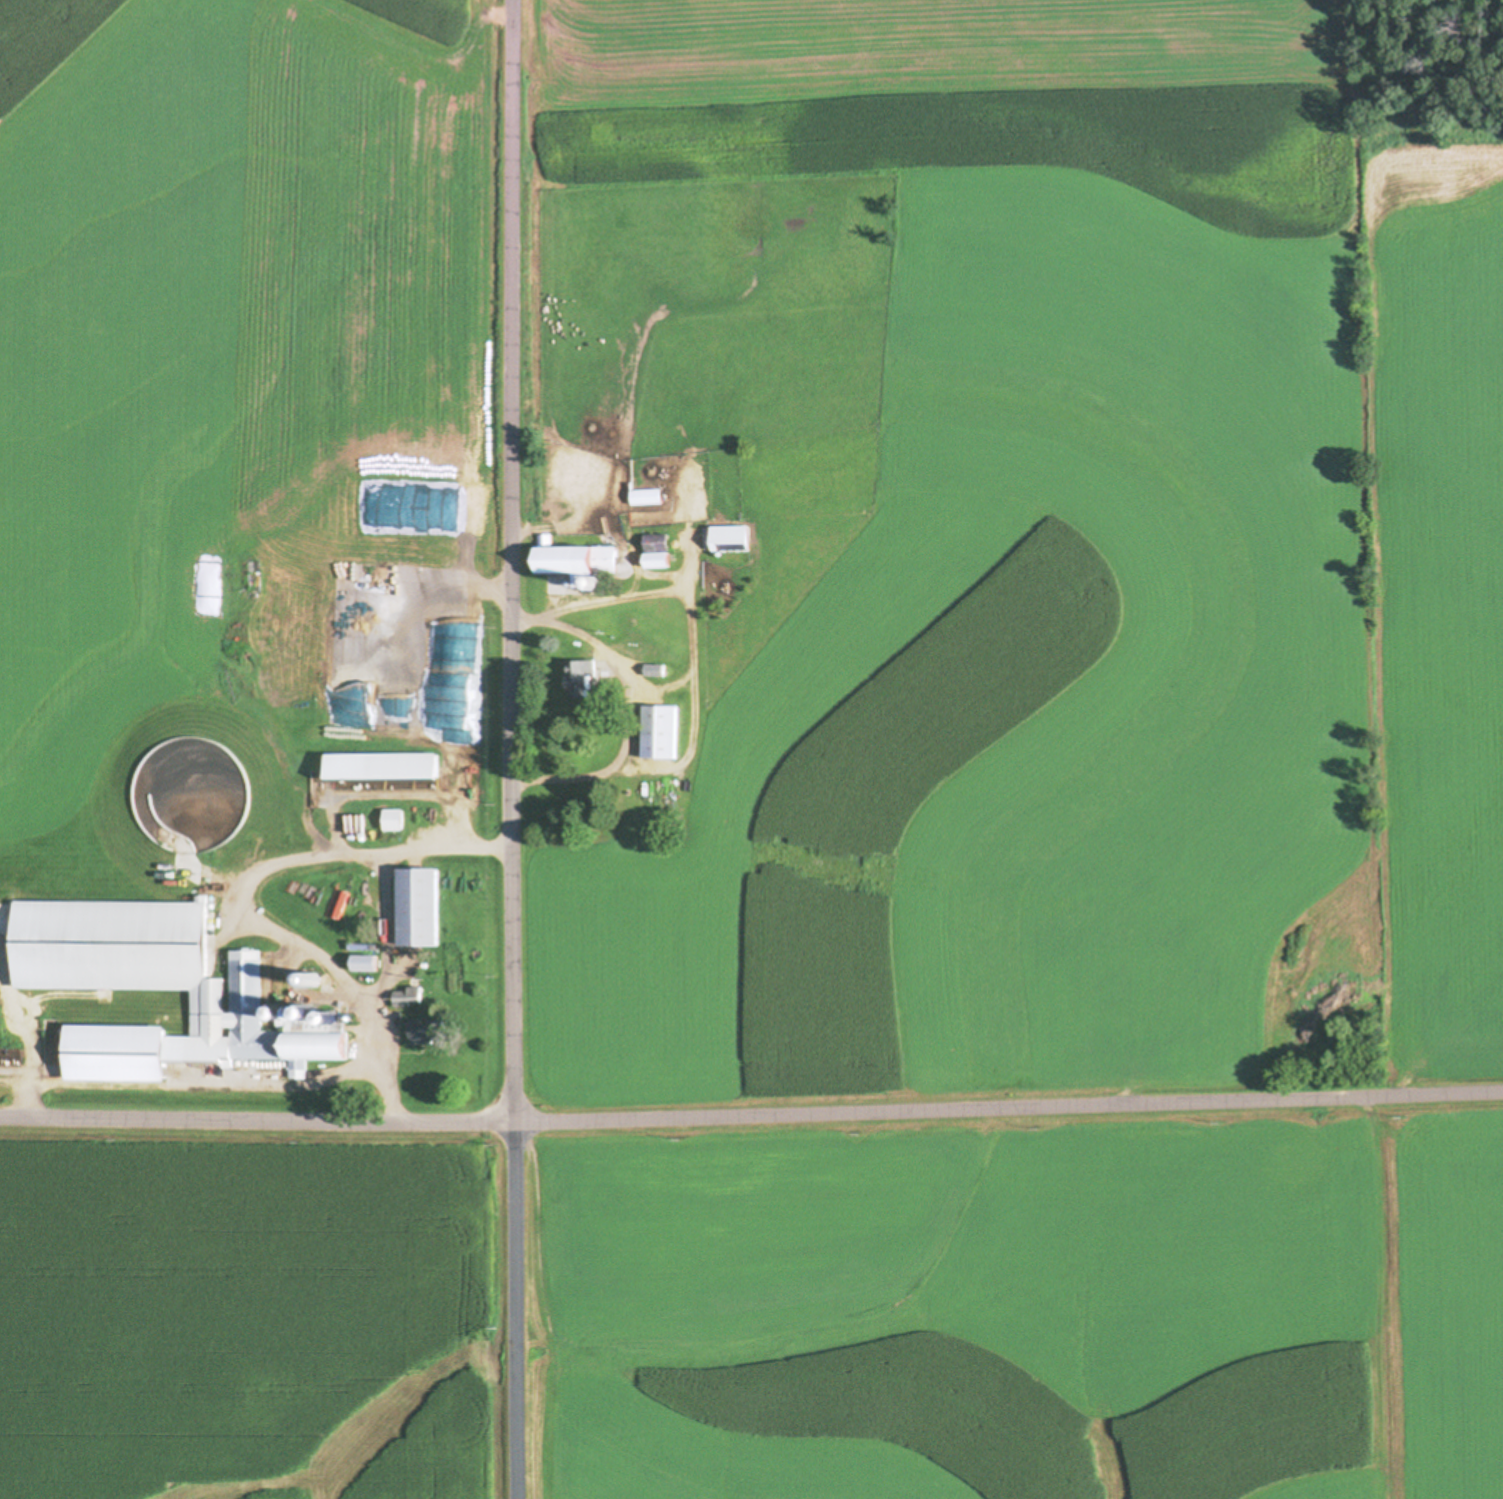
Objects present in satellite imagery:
crop: (215, 324)
building: (646, 497)
building: (730, 539)
building: (658, 560)
building: (578, 562)
crop: (1081, 573)
building: (587, 679)
road: (632, 706)
building: (665, 733)
road: (515, 749)
building: (405, 766)
building: (394, 820)
building: (421, 908)
building: (368, 964)
building: (410, 996)
building: (256, 1028)
building: (432, 1033)
road: (1010, 1104)
road: (258, 1117)
crop: (1019, 1306)
crop: (251, 1313)

